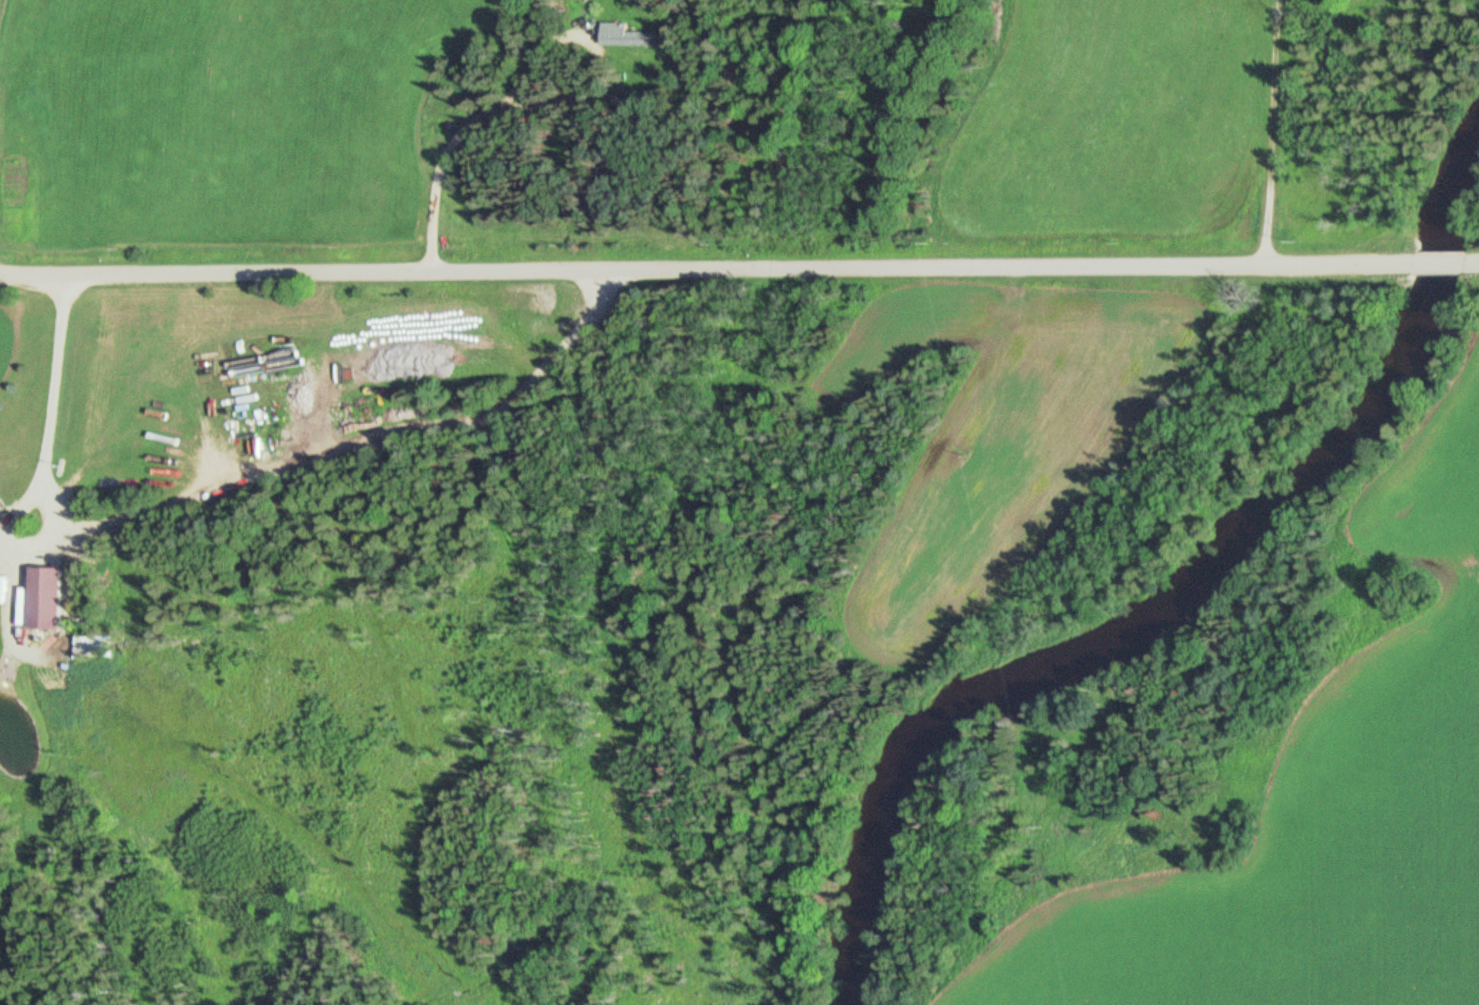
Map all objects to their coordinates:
building: (630, 38)
road: (467, 127)
road: (1287, 134)
road: (1441, 264)
road: (701, 271)
road: (42, 461)
building: (46, 599)
river: (1171, 616)
building: (90, 646)

